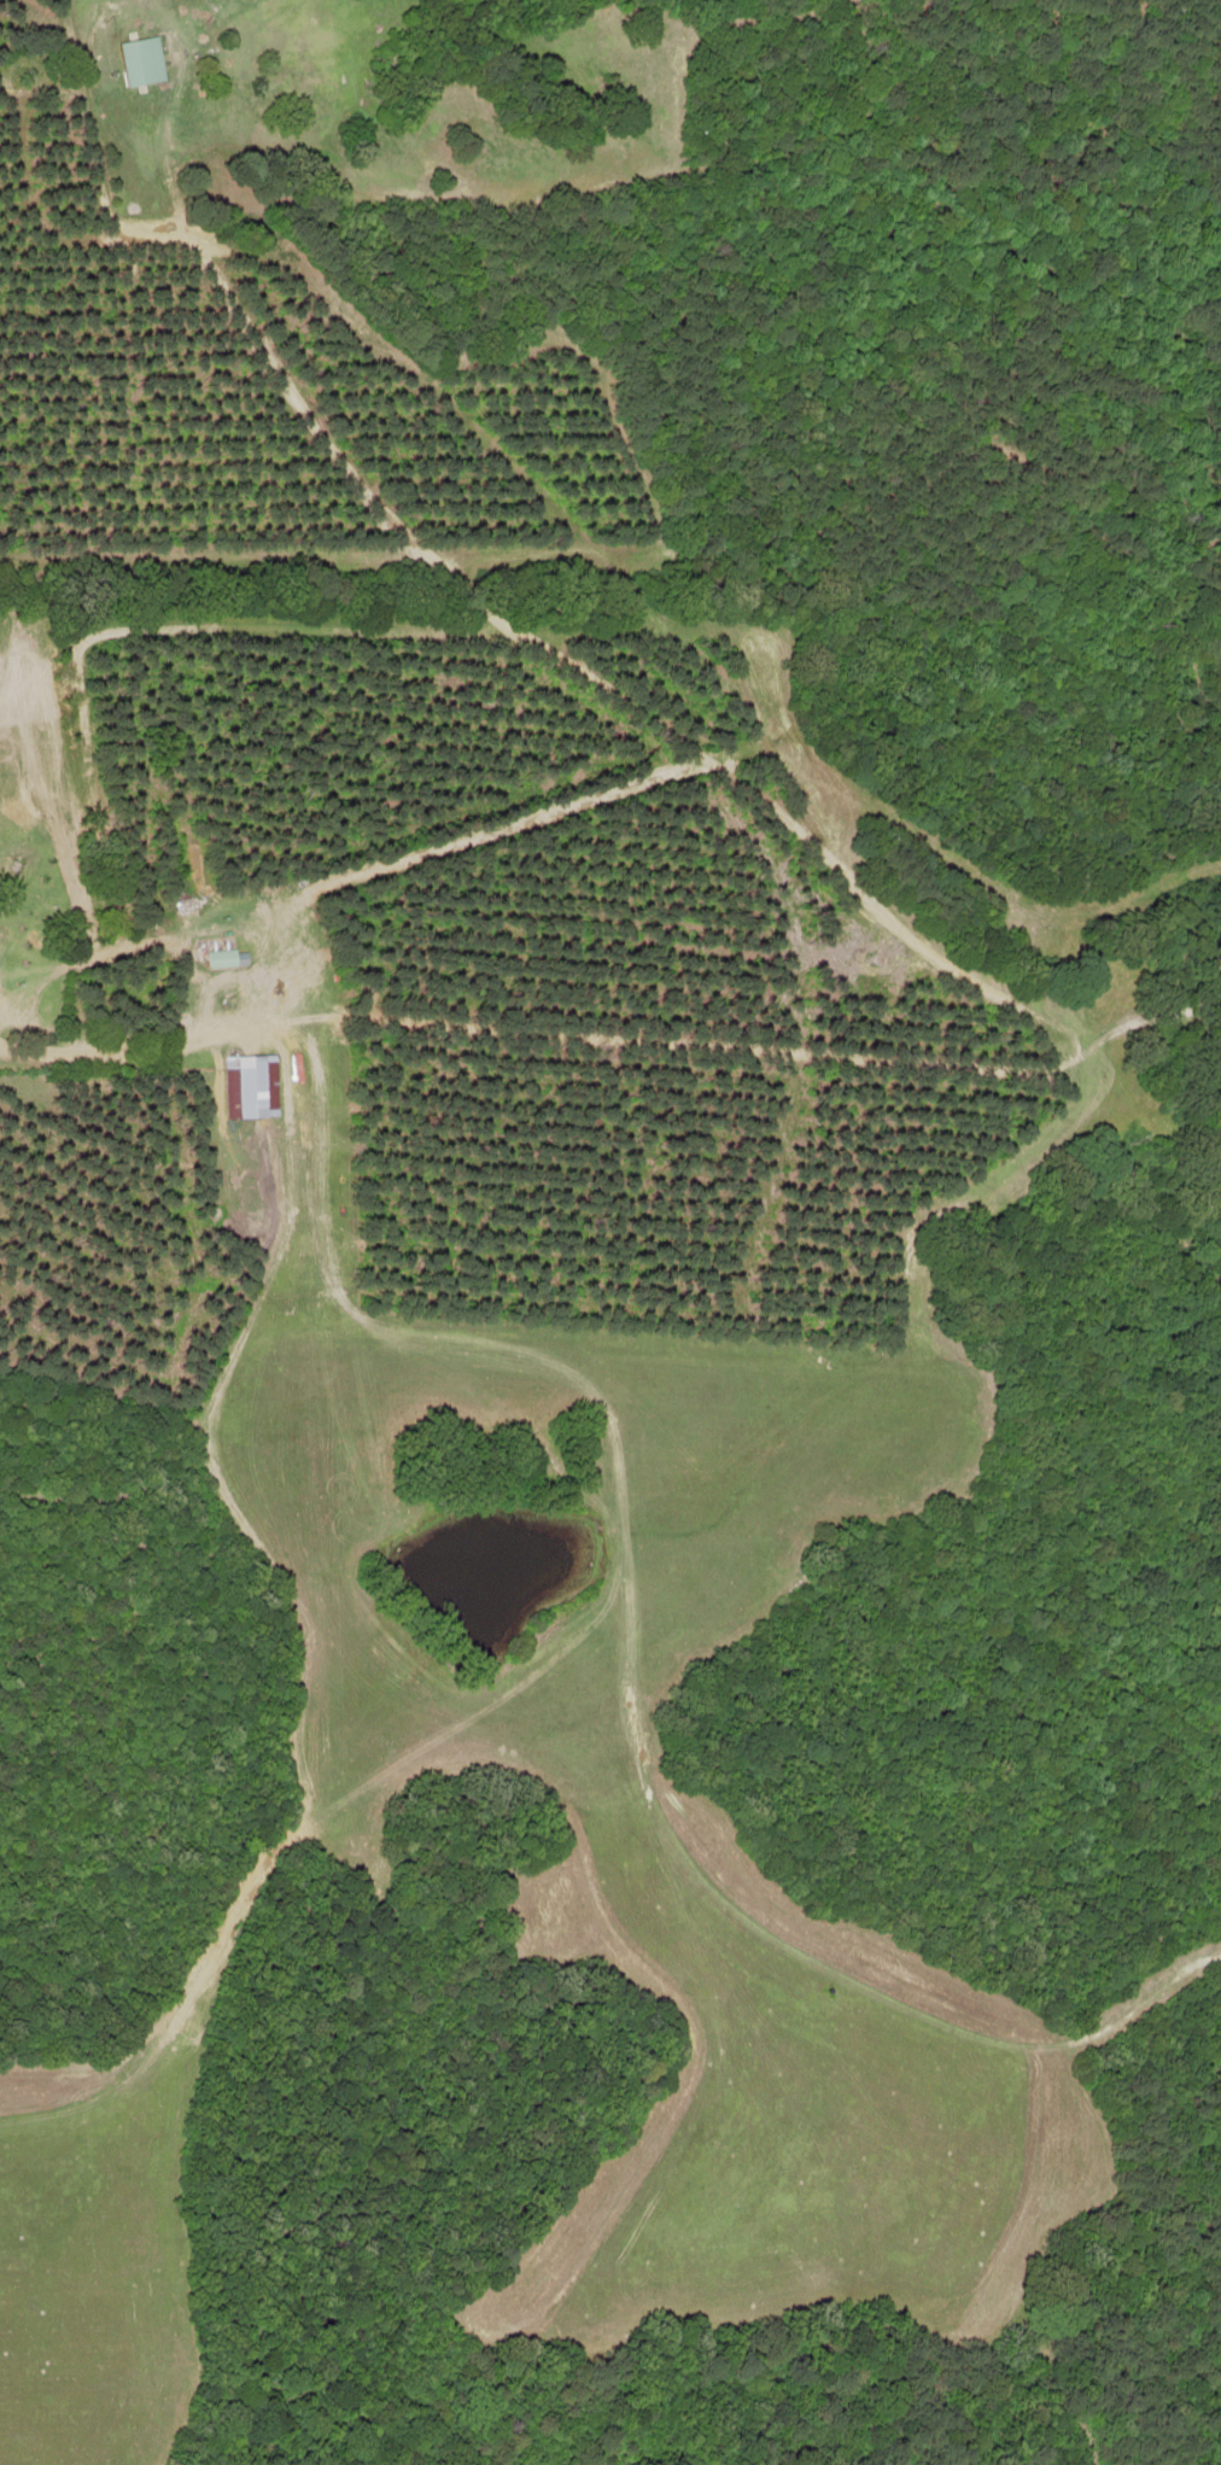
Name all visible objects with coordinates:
building: (142, 60)
road: (548, 646)
building: (227, 957)
road: (1162, 1016)
road: (539, 1042)
building: (250, 1085)

